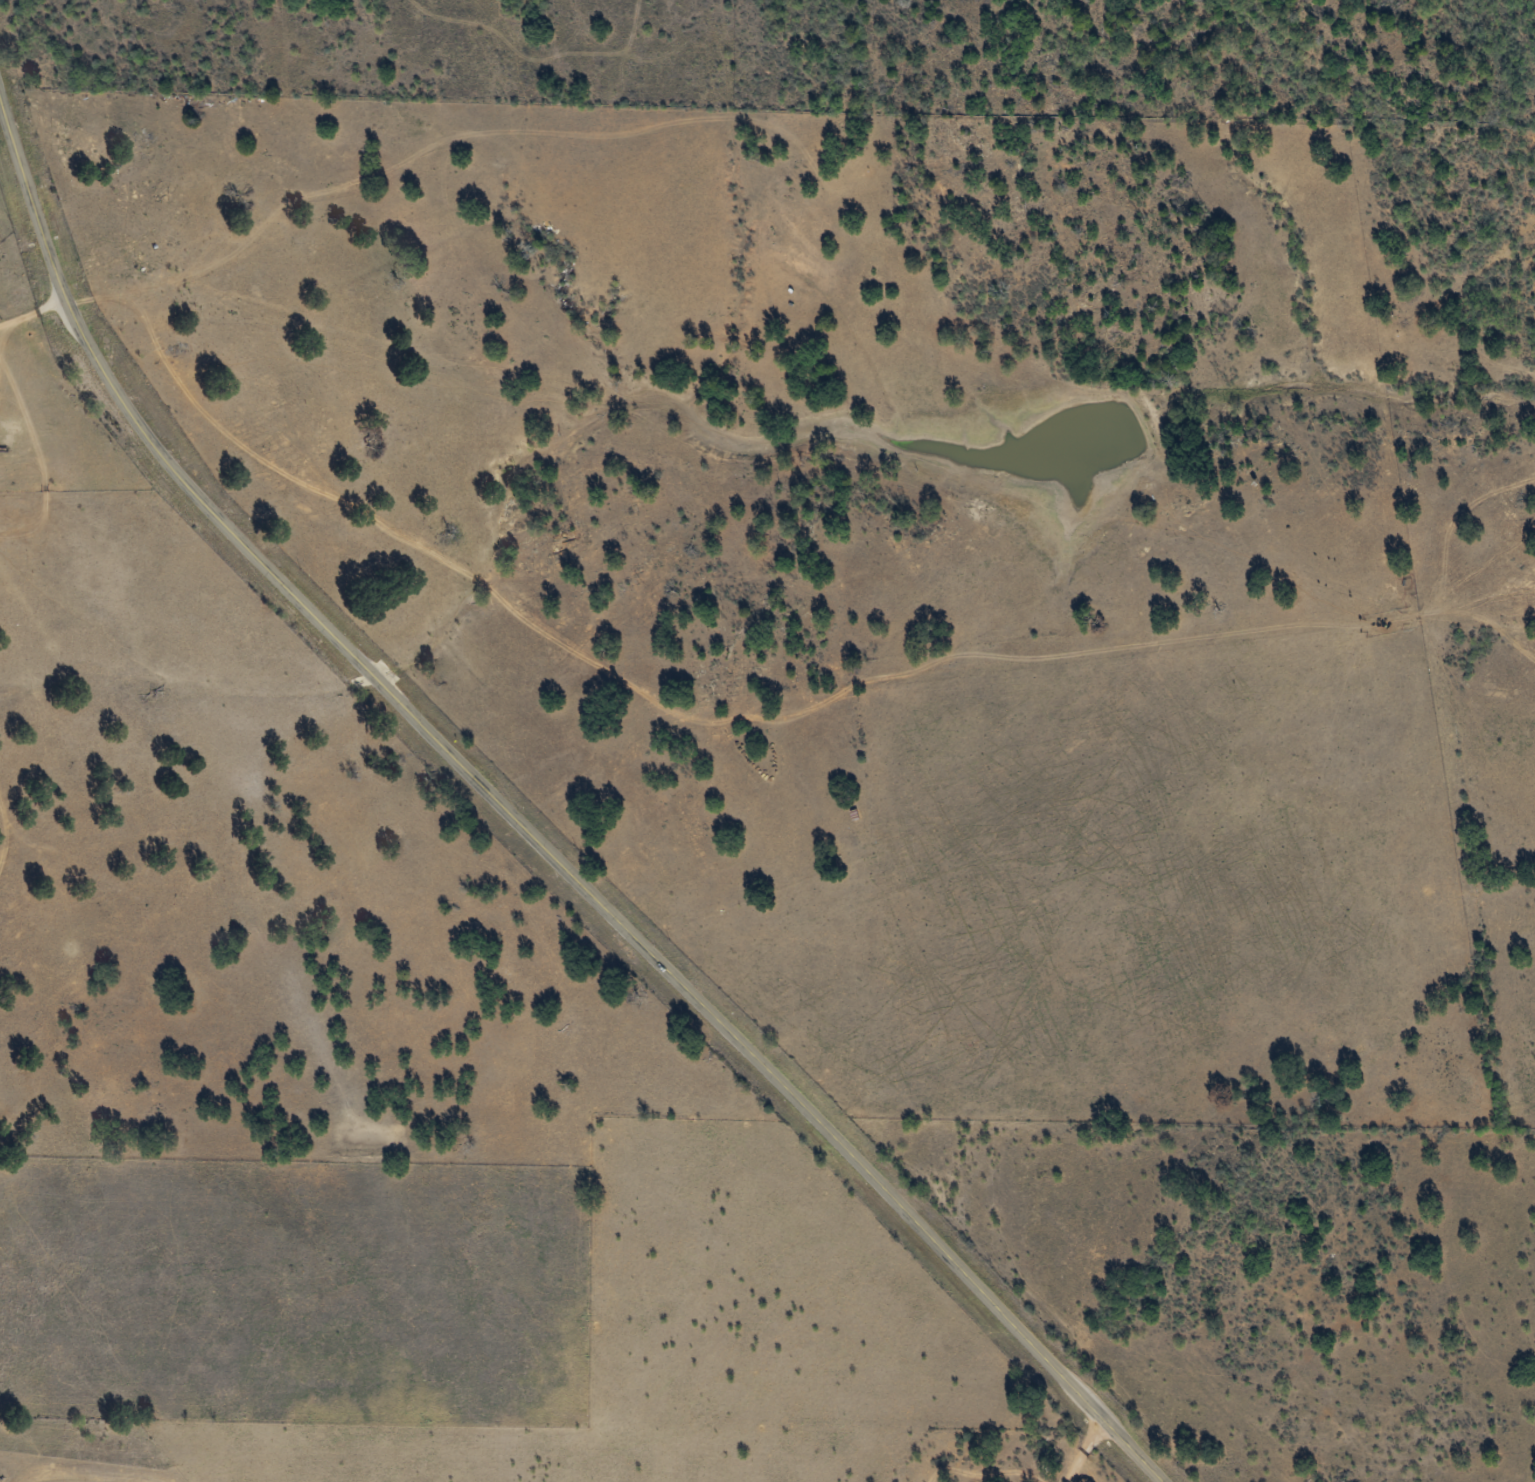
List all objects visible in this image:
road: (475, 577)
road: (523, 827)
road: (1076, 1446)

